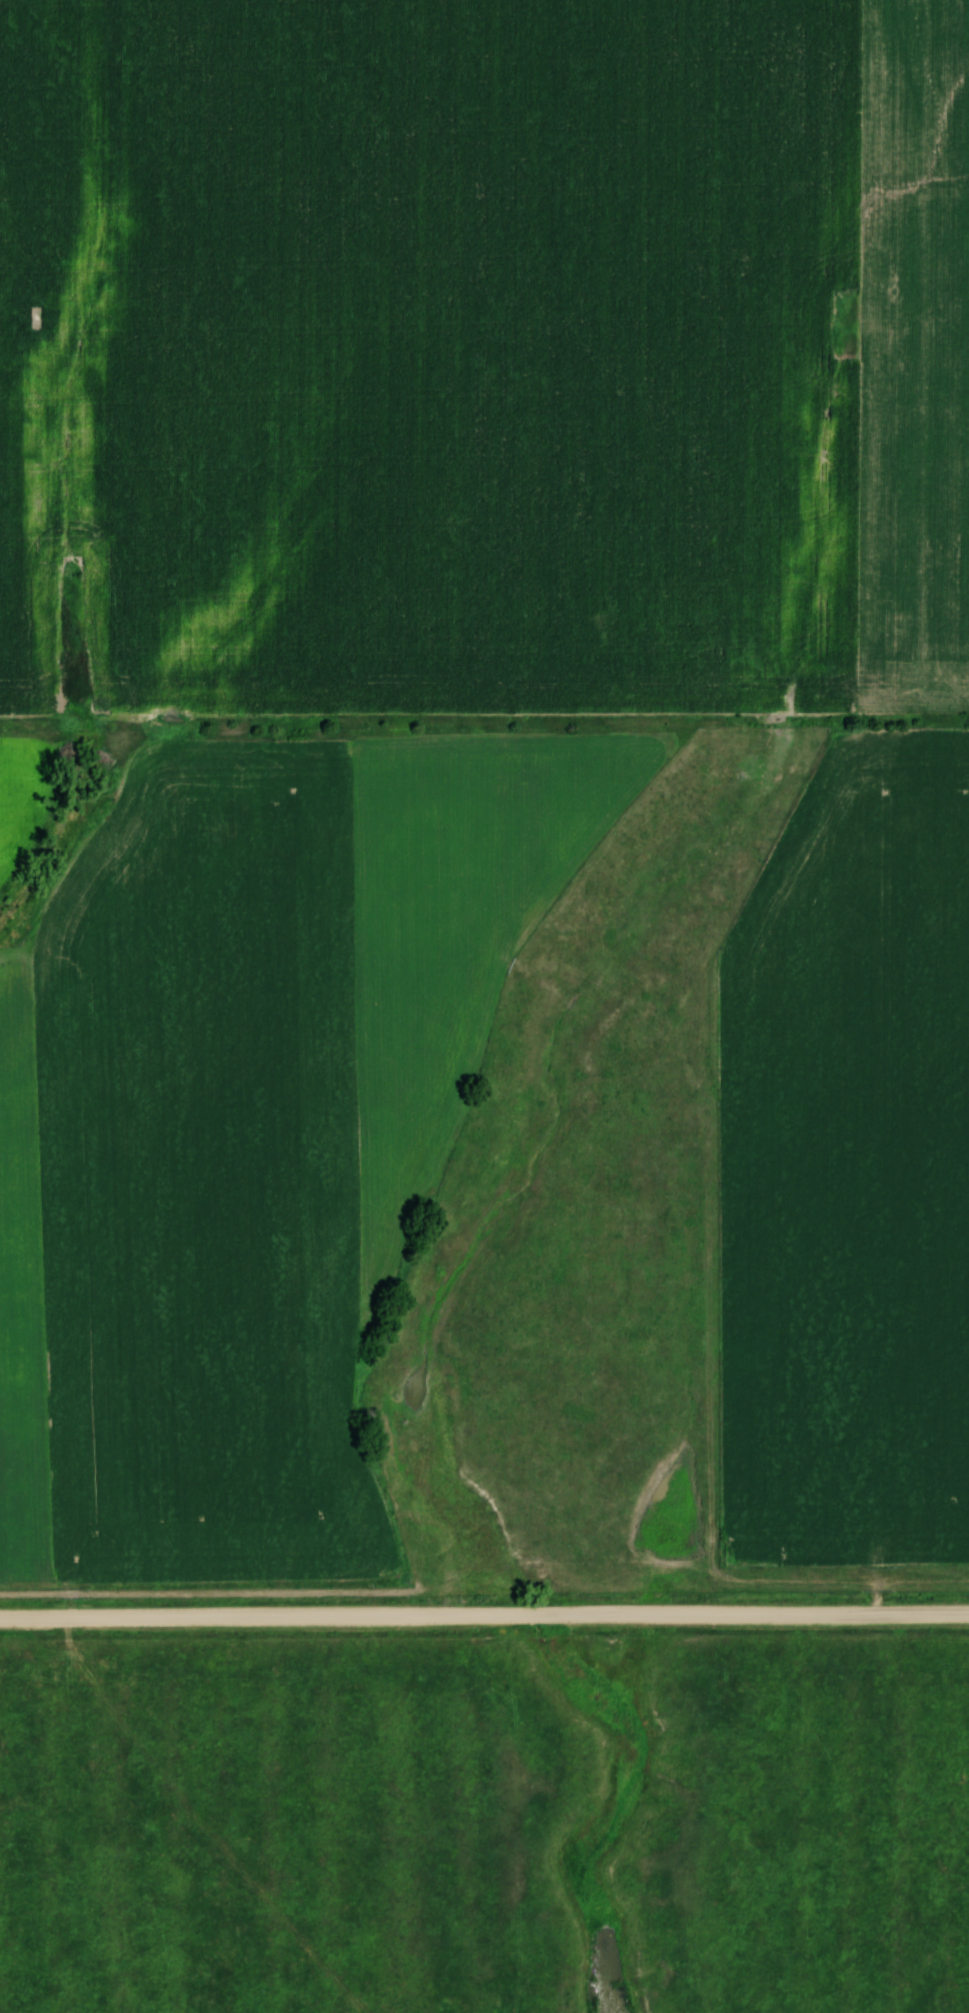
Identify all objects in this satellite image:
road: (484, 1618)

